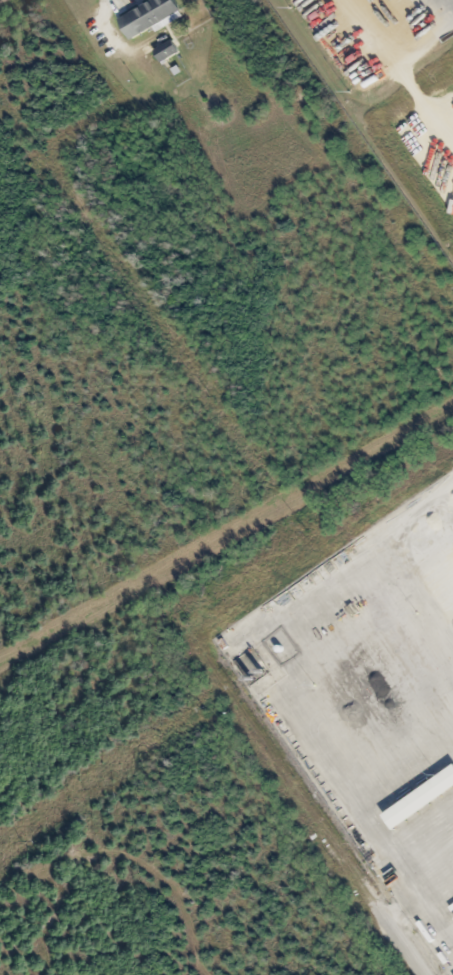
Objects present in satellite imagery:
building: (151, 17)
building: (168, 50)
building: (423, 798)
road: (407, 943)

